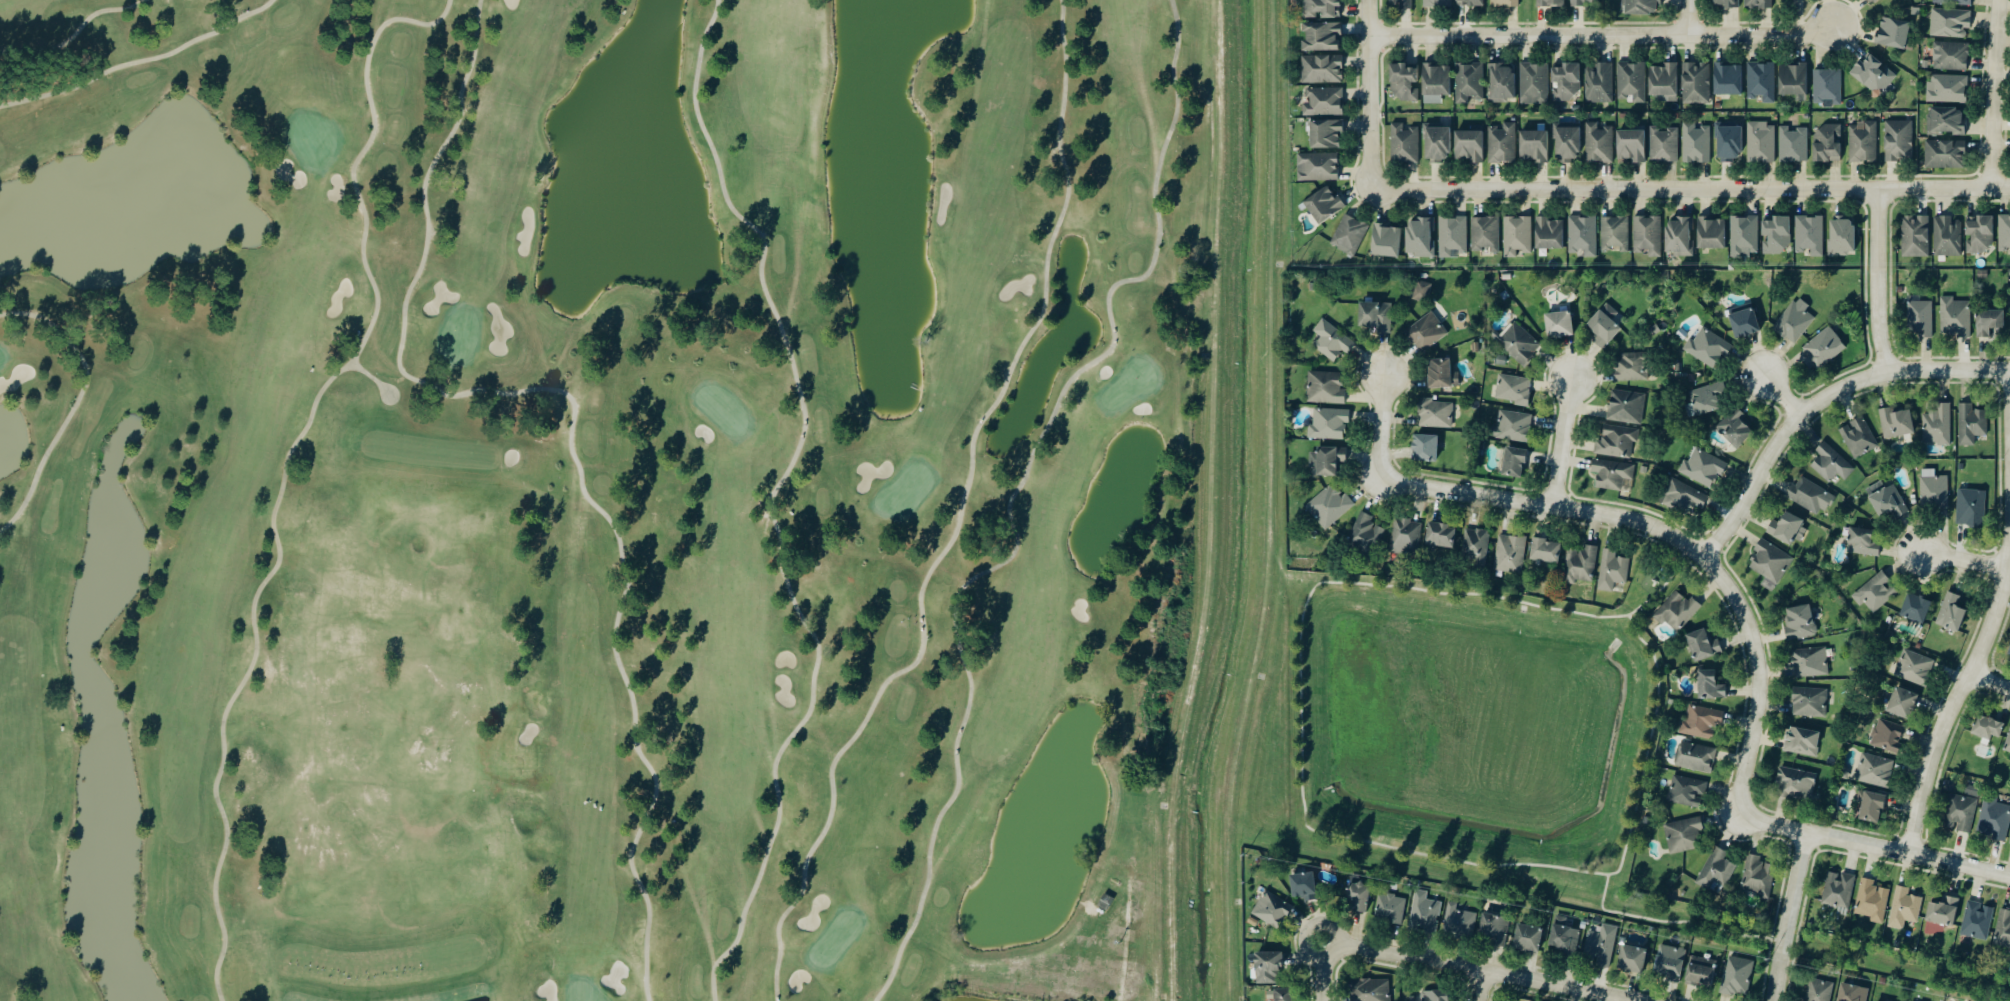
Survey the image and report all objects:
building: (1875, 1)
building: (1470, 2)
building: (1580, 2)
building: (1953, 2)
building: (1400, 3)
building: (1437, 3)
building: (1504, 3)
building: (1550, 3)
building: (1724, 3)
building: (1759, 4)
building: (1640, 6)
building: (1322, 8)
road: (1695, 19)
building: (1950, 22)
building: (1893, 32)
road: (74, 34)
building: (1321, 35)
road: (1603, 38)
building: (1951, 56)
road: (139, 60)
building: (1321, 69)
building: (1874, 73)
building: (1728, 79)
building: (1793, 80)
building: (1565, 81)
building: (1632, 81)
building: (1664, 81)
building: (1761, 81)
building: (1468, 82)
building: (1502, 82)
building: (1403, 83)
building: (1435, 83)
building: (1534, 83)
building: (1599, 83)
building: (1696, 83)
building: (1827, 86)
building: (1947, 88)
road: (1998, 93)
road: (1373, 95)
building: (1324, 102)
building: (1806, 116)
building: (1946, 121)
building: (1325, 133)
building: (1898, 140)
building: (1761, 142)
building: (1863, 142)
building: (1502, 143)
building: (1598, 143)
building: (1696, 143)
building: (1827, 143)
building: (1404, 144)
building: (1437, 144)
building: (1567, 144)
building: (1664, 144)
building: (1793, 144)
building: (1469, 145)
building: (1631, 145)
building: (1533, 146)
building: (1945, 154)
building: (1318, 167)
road: (1692, 189)
building: (1323, 205)
building: (1485, 233)
building: (1549, 233)
building: (1615, 233)
building: (1711, 233)
building: (2004, 233)
building: (1349, 234)
building: (1979, 234)
building: (1452, 235)
building: (1517, 235)
building: (1583, 235)
building: (1647, 235)
building: (1776, 235)
building: (1809, 235)
building: (1679, 236)
building: (1744, 236)
building: (1841, 236)
building: (1914, 236)
building: (1947, 236)
building: (1420, 237)
building: (1385, 240)
road: (1881, 281)
building: (1422, 290)
building: (1375, 315)
building: (1955, 317)
building: (1920, 319)
building: (1795, 321)
building: (1989, 321)
building: (1744, 323)
building: (1558, 324)
building: (1604, 325)
building: (1654, 330)
building: (1426, 332)
building: (1681, 334)
building: (1332, 340)
building: (1518, 342)
building: (1708, 348)
building: (1823, 349)
building: (1631, 367)
building: (1442, 374)
building: (1324, 388)
building: (1513, 389)
road: (1782, 395)
building: (1708, 397)
road: (1819, 401)
road: (75, 403)
building: (1626, 406)
building: (1434, 414)
building: (1896, 423)
building: (1328, 424)
building: (1937, 424)
building: (1970, 424)
building: (1514, 426)
road: (1381, 427)
building: (1735, 428)
road: (571, 430)
building: (1858, 438)
building: (1617, 441)
road: (1562, 442)
building: (1424, 448)
building: (1327, 460)
building: (1515, 461)
road: (285, 463)
building: (1831, 463)
building: (1703, 467)
building: (1612, 474)
building: (1933, 488)
road: (1014, 495)
building: (1810, 495)
park: (594, 496)
building: (1685, 497)
building: (1886, 499)
road: (772, 500)
building: (1329, 506)
building: (1971, 507)
road: (1605, 513)
road: (961, 517)
building: (1787, 529)
building: (1365, 532)
building: (1440, 535)
building: (1405, 536)
building: (1862, 542)
building: (1476, 545)
building: (1545, 551)
building: (1511, 554)
road: (1965, 555)
building: (1770, 563)
building: (1581, 564)
building: (1612, 571)
park: (1653, 579)
building: (1875, 592)
building: (1915, 609)
building: (1677, 611)
building: (1951, 613)
building: (1799, 622)
building: (1703, 645)
building: (2009, 653)
building: (1810, 662)
building: (1915, 668)
road: (1986, 677)
road: (1954, 684)
building: (1710, 686)
building: (1810, 702)
building: (1902, 703)
building: (1700, 721)
building: (1988, 728)
building: (1887, 736)
building: (1802, 742)
building: (2007, 744)
building: (1696, 757)
building: (2009, 759)
building: (1875, 770)
building: (1796, 783)
building: (1687, 791)
building: (1872, 807)
building: (1960, 813)
building: (1833, 815)
building: (1994, 819)
building: (1646, 820)
road: (1795, 829)
building: (1682, 836)
building: (1716, 871)
building: (1758, 877)
building: (1303, 885)
building: (1838, 890)
building: (1359, 897)
building: (1872, 901)
building: (1390, 908)
building: (1904, 908)
building: (1271, 909)
building: (1425, 911)
building: (1943, 911)
road: (1788, 916)
building: (1458, 921)
building: (1977, 921)
building: (1493, 929)
building: (2003, 930)
building: (1563, 937)
building: (1527, 938)
building: (1602, 945)
building: (2009, 952)
building: (1632, 959)
building: (1670, 962)
road: (1446, 965)
building: (1267, 968)
building: (1700, 972)
building: (1737, 976)
road: (1477, 986)
building: (1370, 990)
building: (1819, 990)
building: (1852, 993)
building: (1281, 995)
building: (1434, 996)

